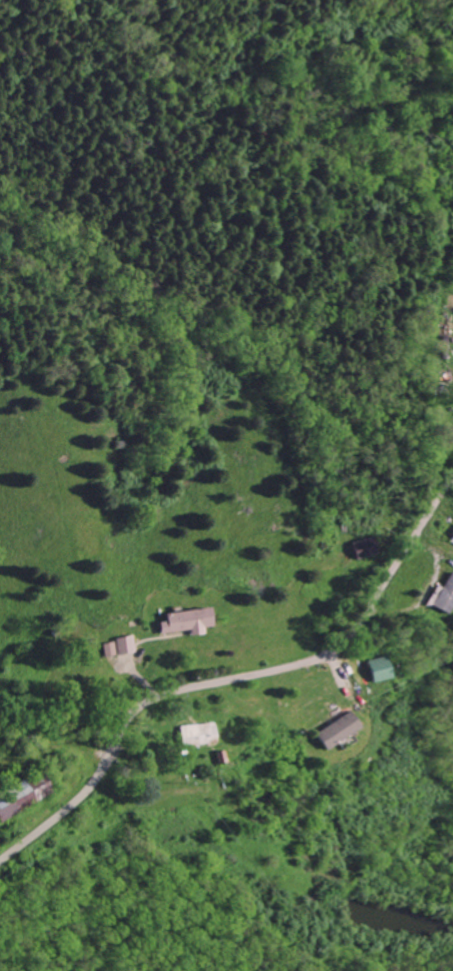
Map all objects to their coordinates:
road: (428, 293)
building: (451, 540)
building: (365, 548)
building: (446, 595)
building: (186, 621)
building: (124, 645)
building: (108, 650)
building: (380, 669)
road: (234, 681)
building: (339, 729)
building: (198, 733)

